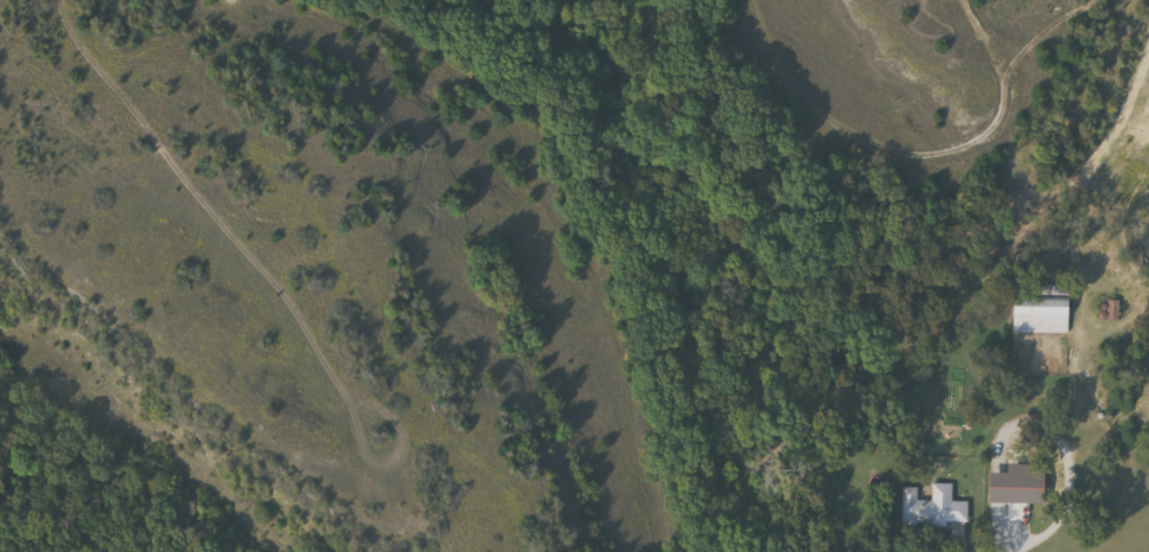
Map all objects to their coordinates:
road: (960, 291)
building: (1036, 310)
road: (1061, 507)
building: (927, 512)

